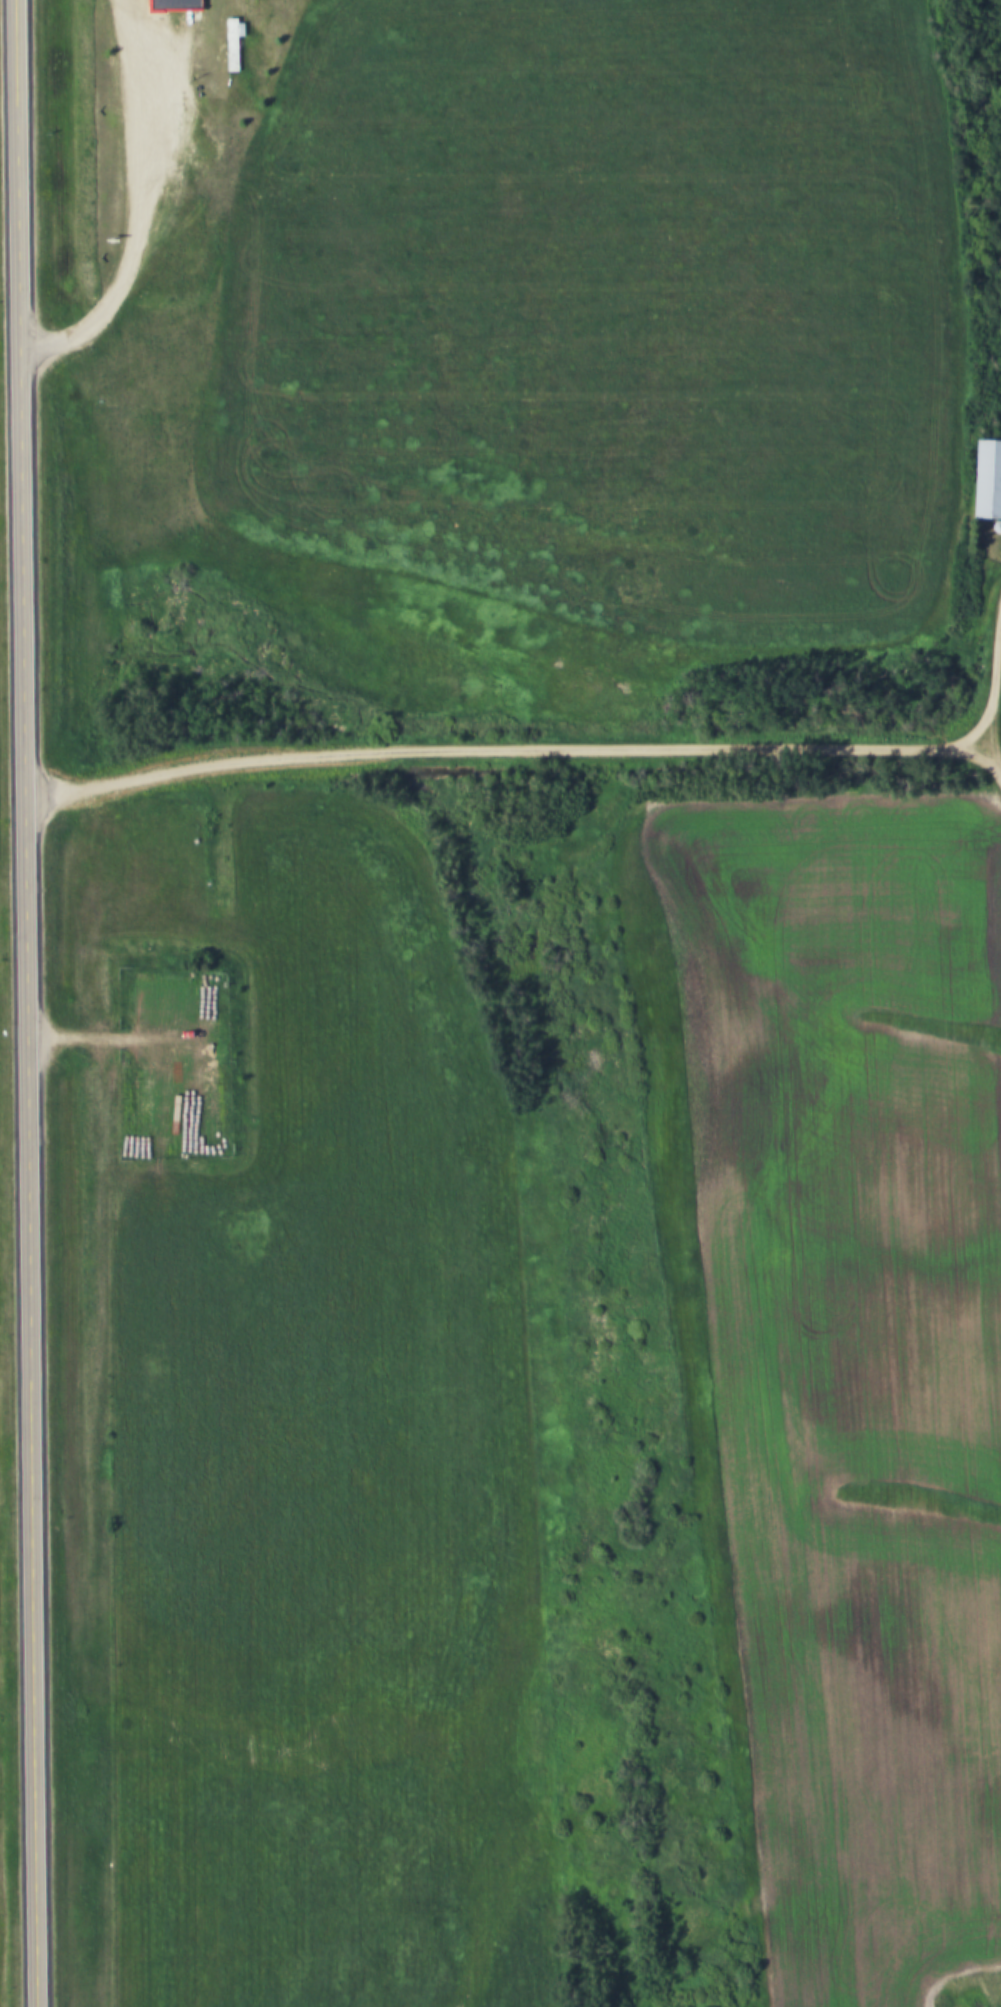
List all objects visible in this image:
building: (179, 6)
building: (235, 45)
road: (127, 202)
road: (13, 236)
road: (559, 744)
road: (989, 748)
road: (25, 1239)

